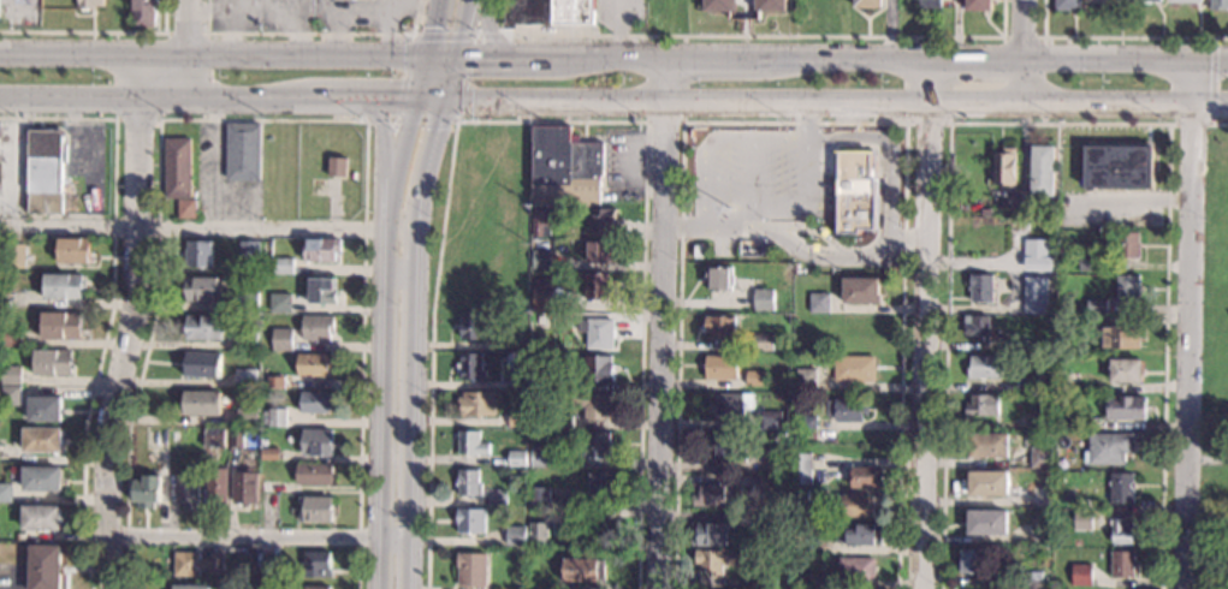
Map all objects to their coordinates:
building: (1105, 1)
building: (1145, 1)
building: (1186, 1)
building: (89, 4)
building: (867, 4)
building: (929, 4)
building: (1218, 4)
building: (718, 5)
building: (770, 5)
building: (978, 5)
building: (1067, 5)
building: (144, 12)
building: (547, 12)
road: (743, 18)
road: (486, 29)
road: (618, 29)
road: (97, 31)
road: (889, 31)
road: (309, 34)
road: (488, 36)
road: (751, 36)
road: (1116, 36)
road: (471, 48)
road: (189, 50)
road: (1024, 50)
road: (203, 54)
traffic signals: (423, 56)
traffic signals: (458, 56)
road: (613, 58)
road: (1043, 59)
road: (1211, 81)
road: (682, 97)
road: (613, 100)
road: (903, 101)
traffic signals: (411, 102)
traffic signals: (447, 102)
road: (136, 119)
road: (259, 119)
road: (805, 120)
road: (550, 121)
road: (793, 123)
road: (1187, 124)
road: (1217, 125)
road: (854, 133)
road: (382, 139)
road: (713, 139)
building: (241, 151)
building: (546, 157)
road: (13, 162)
road: (213, 163)
road: (831, 163)
building: (336, 167)
building: (1119, 167)
building: (174, 168)
building: (1003, 168)
building: (1042, 171)
building: (42, 172)
parking lot: (760, 174)
building: (574, 179)
road: (752, 182)
building: (855, 192)
road: (805, 201)
building: (184, 209)
building: (603, 221)
building: (541, 222)
road: (682, 226)
road: (726, 226)
road: (799, 226)
road: (889, 226)
road: (208, 227)
road: (878, 239)
road: (907, 239)
building: (1127, 246)
road: (1165, 246)
building: (72, 249)
building: (320, 249)
building: (247, 251)
building: (598, 254)
building: (13, 255)
building: (195, 255)
building: (1036, 255)
building: (539, 260)
building: (1088, 262)
building: (281, 267)
building: (718, 278)
building: (61, 287)
building: (597, 287)
building: (1127, 288)
road: (413, 290)
building: (981, 290)
building: (202, 291)
road: (385, 291)
building: (321, 292)
building: (861, 292)
building: (541, 294)
building: (1034, 296)
road: (111, 298)
building: (763, 302)
building: (245, 303)
building: (280, 303)
building: (818, 304)
building: (1096, 308)
road: (130, 322)
building: (542, 322)
building: (1081, 322)
road: (662, 323)
building: (59, 325)
road: (924, 325)
road: (1190, 325)
building: (471, 326)
building: (202, 328)
building: (316, 328)
building: (719, 328)
building: (977, 328)
building: (597, 334)
building: (11, 337)
building: (1121, 338)
building: (280, 341)
building: (245, 343)
building: (761, 343)
building: (520, 345)
building: (1034, 345)
road: (945, 356)
building: (52, 362)
park: (1214, 363)
building: (314, 365)
building: (201, 367)
building: (469, 367)
building: (720, 368)
building: (984, 368)
building: (598, 369)
building: (850, 369)
building: (1126, 371)
building: (10, 375)
building: (244, 379)
building: (755, 380)
building: (805, 381)
building: (275, 382)
building: (1066, 382)
building: (520, 385)
building: (1028, 385)
building: (540, 387)
building: (10, 395)
building: (315, 403)
building: (200, 404)
building: (476, 405)
building: (592, 406)
building: (726, 406)
building: (983, 407)
building: (43, 409)
building: (1127, 409)
building: (847, 411)
building: (245, 418)
building: (272, 418)
building: (516, 422)
building: (1040, 422)
building: (1066, 422)
building: (562, 423)
building: (807, 423)
building: (770, 424)
building: (173, 436)
building: (213, 439)
building: (41, 440)
building: (236, 440)
building: (316, 444)
building: (470, 445)
building: (595, 446)
building: (989, 446)
building: (1108, 450)
building: (728, 451)
building: (773, 452)
building: (1039, 453)
building: (269, 456)
building: (540, 458)
road: (1208, 458)
building: (516, 459)
building: (776, 466)
building: (799, 469)
building: (313, 475)
building: (41, 478)
building: (865, 478)
building: (468, 484)
building: (603, 484)
building: (987, 484)
building: (215, 487)
building: (249, 488)
building: (1121, 488)
building: (1091, 490)
building: (770, 492)
building: (5, 493)
building: (144, 493)
building: (185, 493)
building: (538, 496)
building: (710, 496)
building: (799, 498)
building: (497, 499)
building: (1039, 499)
building: (854, 507)
building: (314, 510)
building: (41, 517)
building: (532, 517)
building: (470, 520)
building: (1082, 520)
building: (770, 524)
building: (987, 524)
building: (1122, 531)
building: (1040, 533)
building: (536, 534)
building: (713, 536)
building: (515, 537)
building: (861, 537)
road: (259, 539)
building: (1076, 543)
building: (800, 547)
building: (238, 553)
building: (989, 555)
building: (1068, 558)
building: (719, 560)
building: (243, 561)
building: (972, 563)
building: (195, 564)
building: (315, 565)
building: (1122, 565)
building: (43, 566)
building: (471, 571)
building: (583, 571)
building: (855, 571)
building: (271, 573)
building: (1081, 575)
building: (1032, 579)
building: (815, 582)
building: (767, 583)
building: (316, 587)
building: (190, 588)

